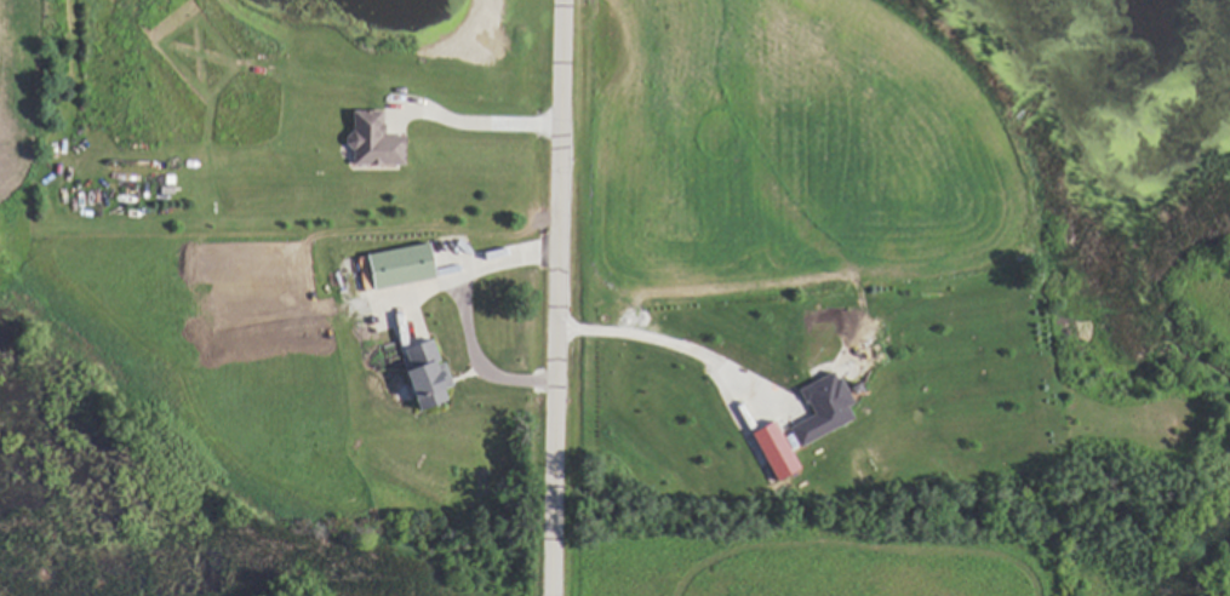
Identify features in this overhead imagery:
road: (471, 127)
building: (367, 141)
building: (391, 264)
road: (471, 267)
road: (561, 297)
road: (674, 344)
building: (418, 372)
building: (817, 407)
building: (768, 448)

